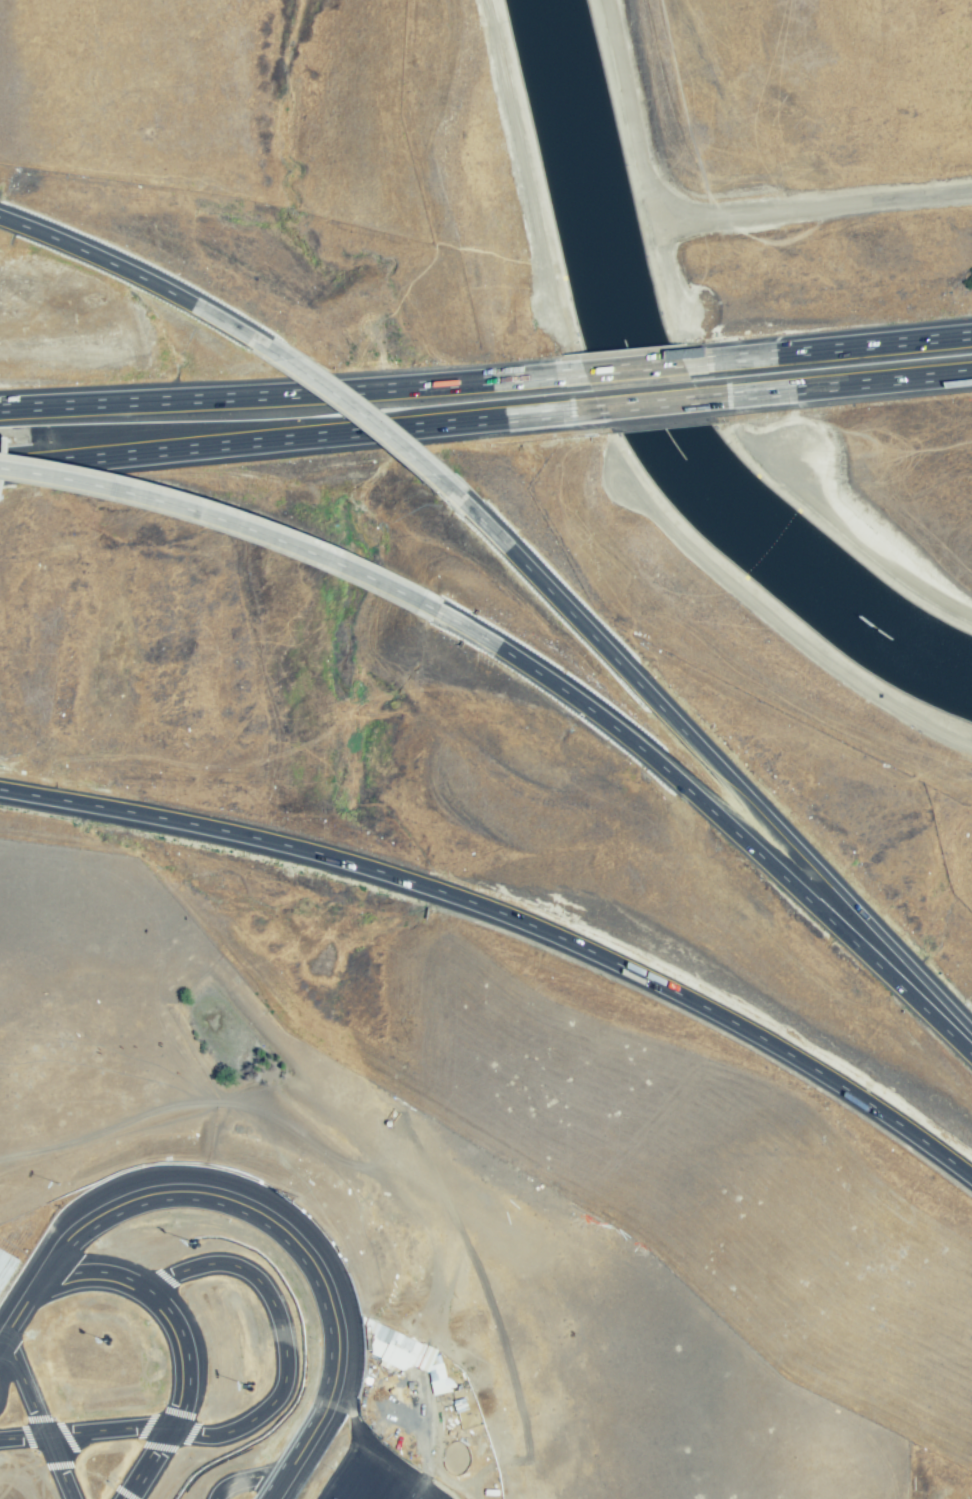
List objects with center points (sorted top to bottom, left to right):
road: (636, 115)
road: (813, 215)
road: (665, 268)
road: (132, 272)
road: (873, 343)
road: (632, 366)
road: (883, 380)
road: (245, 395)
road: (650, 403)
road: (362, 414)
road: (253, 441)
road: (224, 520)
road: (715, 763)
road: (717, 815)
road: (512, 917)
raceway: (307, 1204)
raceway: (261, 1206)
building: (7, 1270)
raceway: (176, 1326)
building: (402, 1349)
raceway: (261, 1414)
raceway: (35, 1416)
parking lot: (406, 1430)
road: (374, 1450)
raceway: (240, 1481)

